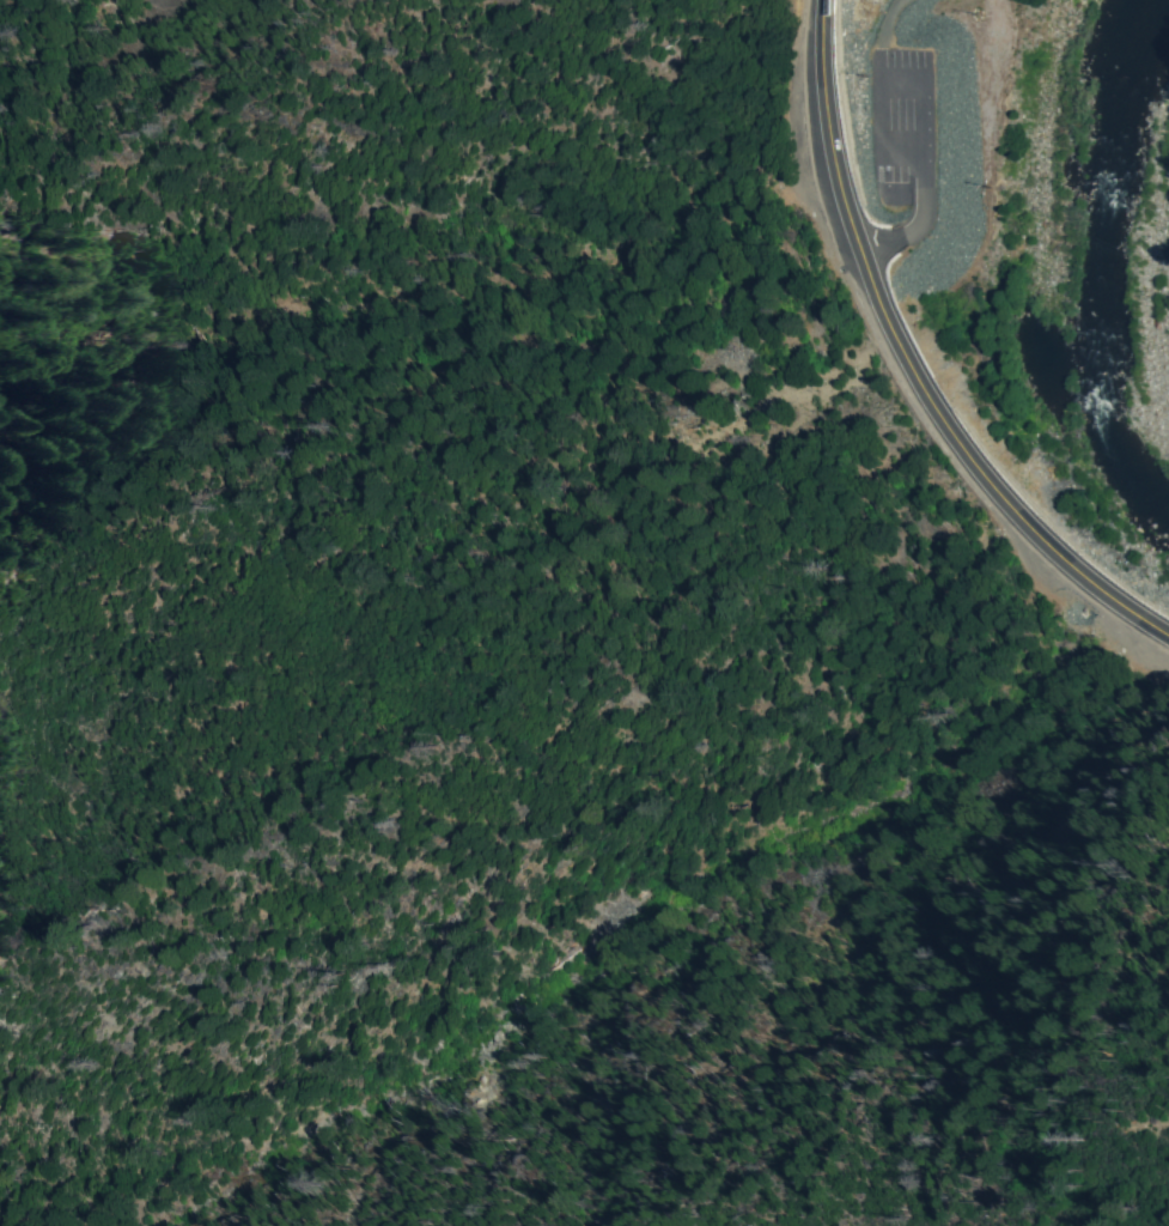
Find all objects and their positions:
river: (1130, 127)
road: (903, 366)
river: (1115, 390)

